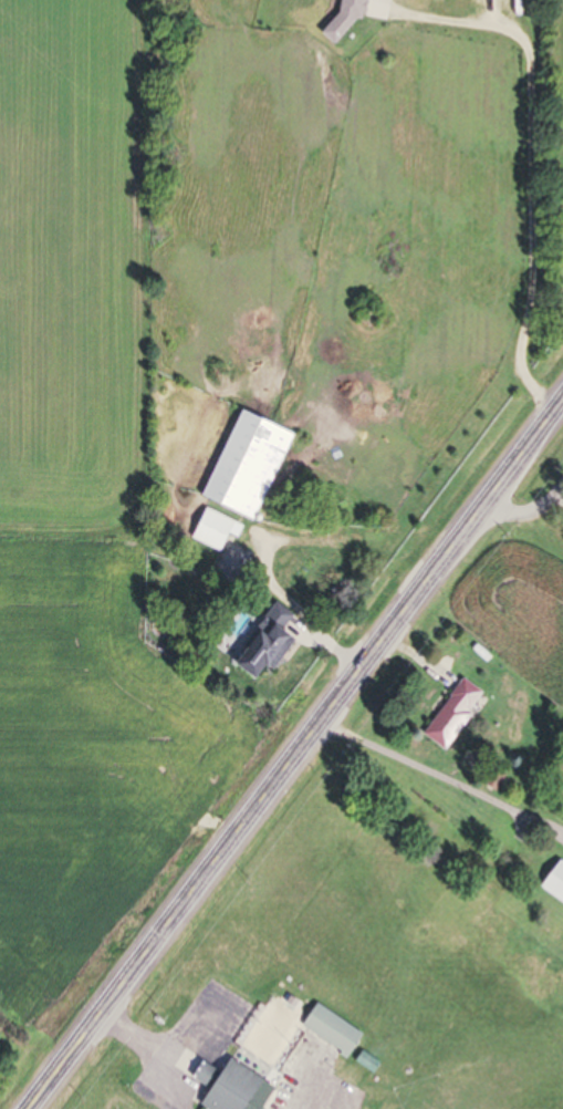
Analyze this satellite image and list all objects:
building: (246, 467)
road: (536, 498)
building: (262, 643)
building: (450, 714)
road: (293, 753)
road: (440, 767)
building: (492, 781)
building: (553, 882)
building: (330, 1032)
building: (365, 1065)
building: (226, 1087)

